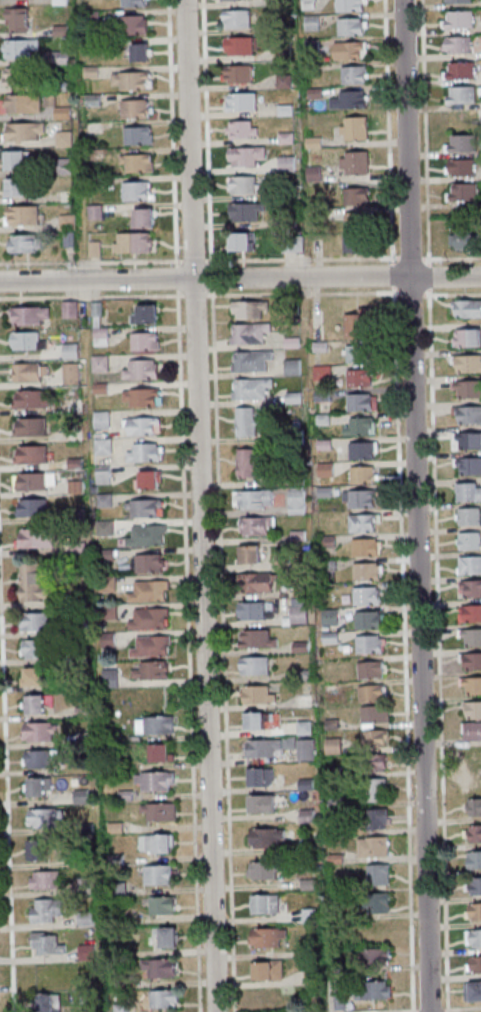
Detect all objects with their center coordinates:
building: (232, 0)
building: (459, 1)
building: (136, 3)
building: (352, 5)
building: (17, 19)
building: (237, 19)
building: (460, 19)
building: (136, 24)
building: (353, 25)
building: (458, 45)
building: (239, 46)
building: (20, 48)
building: (351, 50)
building: (142, 52)
building: (57, 57)
building: (461, 71)
building: (355, 74)
building: (238, 75)
building: (14, 76)
building: (132, 80)
building: (461, 95)
building: (351, 100)
building: (242, 102)
building: (22, 104)
building: (135, 108)
building: (355, 129)
road: (211, 130)
building: (243, 130)
road: (175, 131)
building: (24, 132)
building: (139, 136)
building: (65, 139)
building: (463, 143)
building: (246, 157)
building: (16, 159)
building: (138, 163)
building: (356, 164)
building: (288, 165)
building: (462, 167)
building: (244, 185)
building: (17, 186)
building: (138, 190)
building: (464, 191)
building: (357, 196)
building: (247, 212)
building: (24, 214)
building: (144, 218)
building: (357, 221)
building: (466, 239)
building: (243, 241)
building: (134, 242)
building: (25, 243)
building: (356, 243)
road: (240, 260)
road: (240, 278)
road: (240, 294)
building: (71, 309)
building: (467, 309)
building: (251, 310)
building: (146, 314)
building: (30, 315)
building: (359, 325)
building: (248, 334)
building: (101, 336)
building: (467, 339)
building: (28, 340)
building: (145, 342)
building: (71, 350)
building: (357, 354)
building: (251, 362)
building: (101, 363)
building: (468, 365)
building: (142, 370)
building: (30, 372)
building: (71, 373)
building: (360, 377)
building: (467, 390)
building: (252, 391)
building: (142, 397)
building: (32, 399)
building: (363, 401)
building: (468, 415)
building: (103, 419)
building: (246, 423)
building: (143, 425)
building: (361, 425)
building: (31, 426)
building: (467, 440)
building: (103, 446)
building: (363, 451)
building: (145, 452)
building: (31, 454)
building: (250, 465)
building: (468, 465)
building: (363, 475)
building: (148, 479)
building: (36, 481)
building: (469, 492)
building: (361, 499)
building: (253, 500)
road: (421, 505)
road: (205, 506)
building: (33, 507)
building: (145, 508)
building: (469, 516)
building: (363, 524)
building: (255, 527)
building: (148, 536)
building: (37, 538)
building: (469, 540)
building: (367, 548)
building: (250, 555)
building: (150, 564)
building: (469, 565)
building: (367, 573)
building: (258, 583)
building: (33, 584)
building: (469, 589)
building: (149, 592)
building: (367, 596)
building: (252, 612)
building: (469, 613)
building: (299, 615)
building: (331, 617)
building: (150, 619)
building: (369, 620)
building: (35, 622)
road: (191, 636)
road: (226, 636)
building: (470, 637)
building: (257, 640)
building: (370, 644)
building: (152, 647)
building: (34, 648)
building: (471, 662)
building: (255, 667)
building: (372, 669)
building: (152, 671)
building: (34, 676)
building: (471, 687)
building: (373, 693)
building: (258, 696)
building: (35, 704)
building: (472, 711)
building: (375, 715)
building: (254, 721)
building: (154, 725)
building: (39, 731)
road: (9, 732)
building: (472, 732)
building: (376, 739)
building: (334, 745)
building: (255, 748)
building: (305, 752)
building: (161, 753)
building: (40, 758)
building: (376, 763)
building: (260, 777)
building: (155, 782)
building: (474, 783)
building: (306, 784)
building: (37, 786)
building: (378, 790)
building: (262, 803)
building: (474, 806)
building: (160, 812)
building: (306, 816)
building: (43, 818)
building: (379, 818)
building: (474, 833)
building: (267, 837)
building: (157, 844)
building: (374, 847)
building: (37, 850)
building: (474, 859)
building: (264, 870)
building: (378, 874)
building: (158, 876)
building: (45, 880)
building: (475, 886)
building: (380, 902)
building: (266, 903)
building: (162, 906)
building: (46, 909)
building: (473, 911)
building: (85, 918)
building: (268, 936)
building: (166, 937)
building: (473, 937)
building: (47, 943)
building: (88, 951)
building: (377, 956)
building: (474, 964)
building: (161, 968)
building: (268, 970)
building: (56, 975)
building: (373, 989)
building: (473, 991)
building: (164, 998)
building: (45, 1002)
road: (449, 1010)

